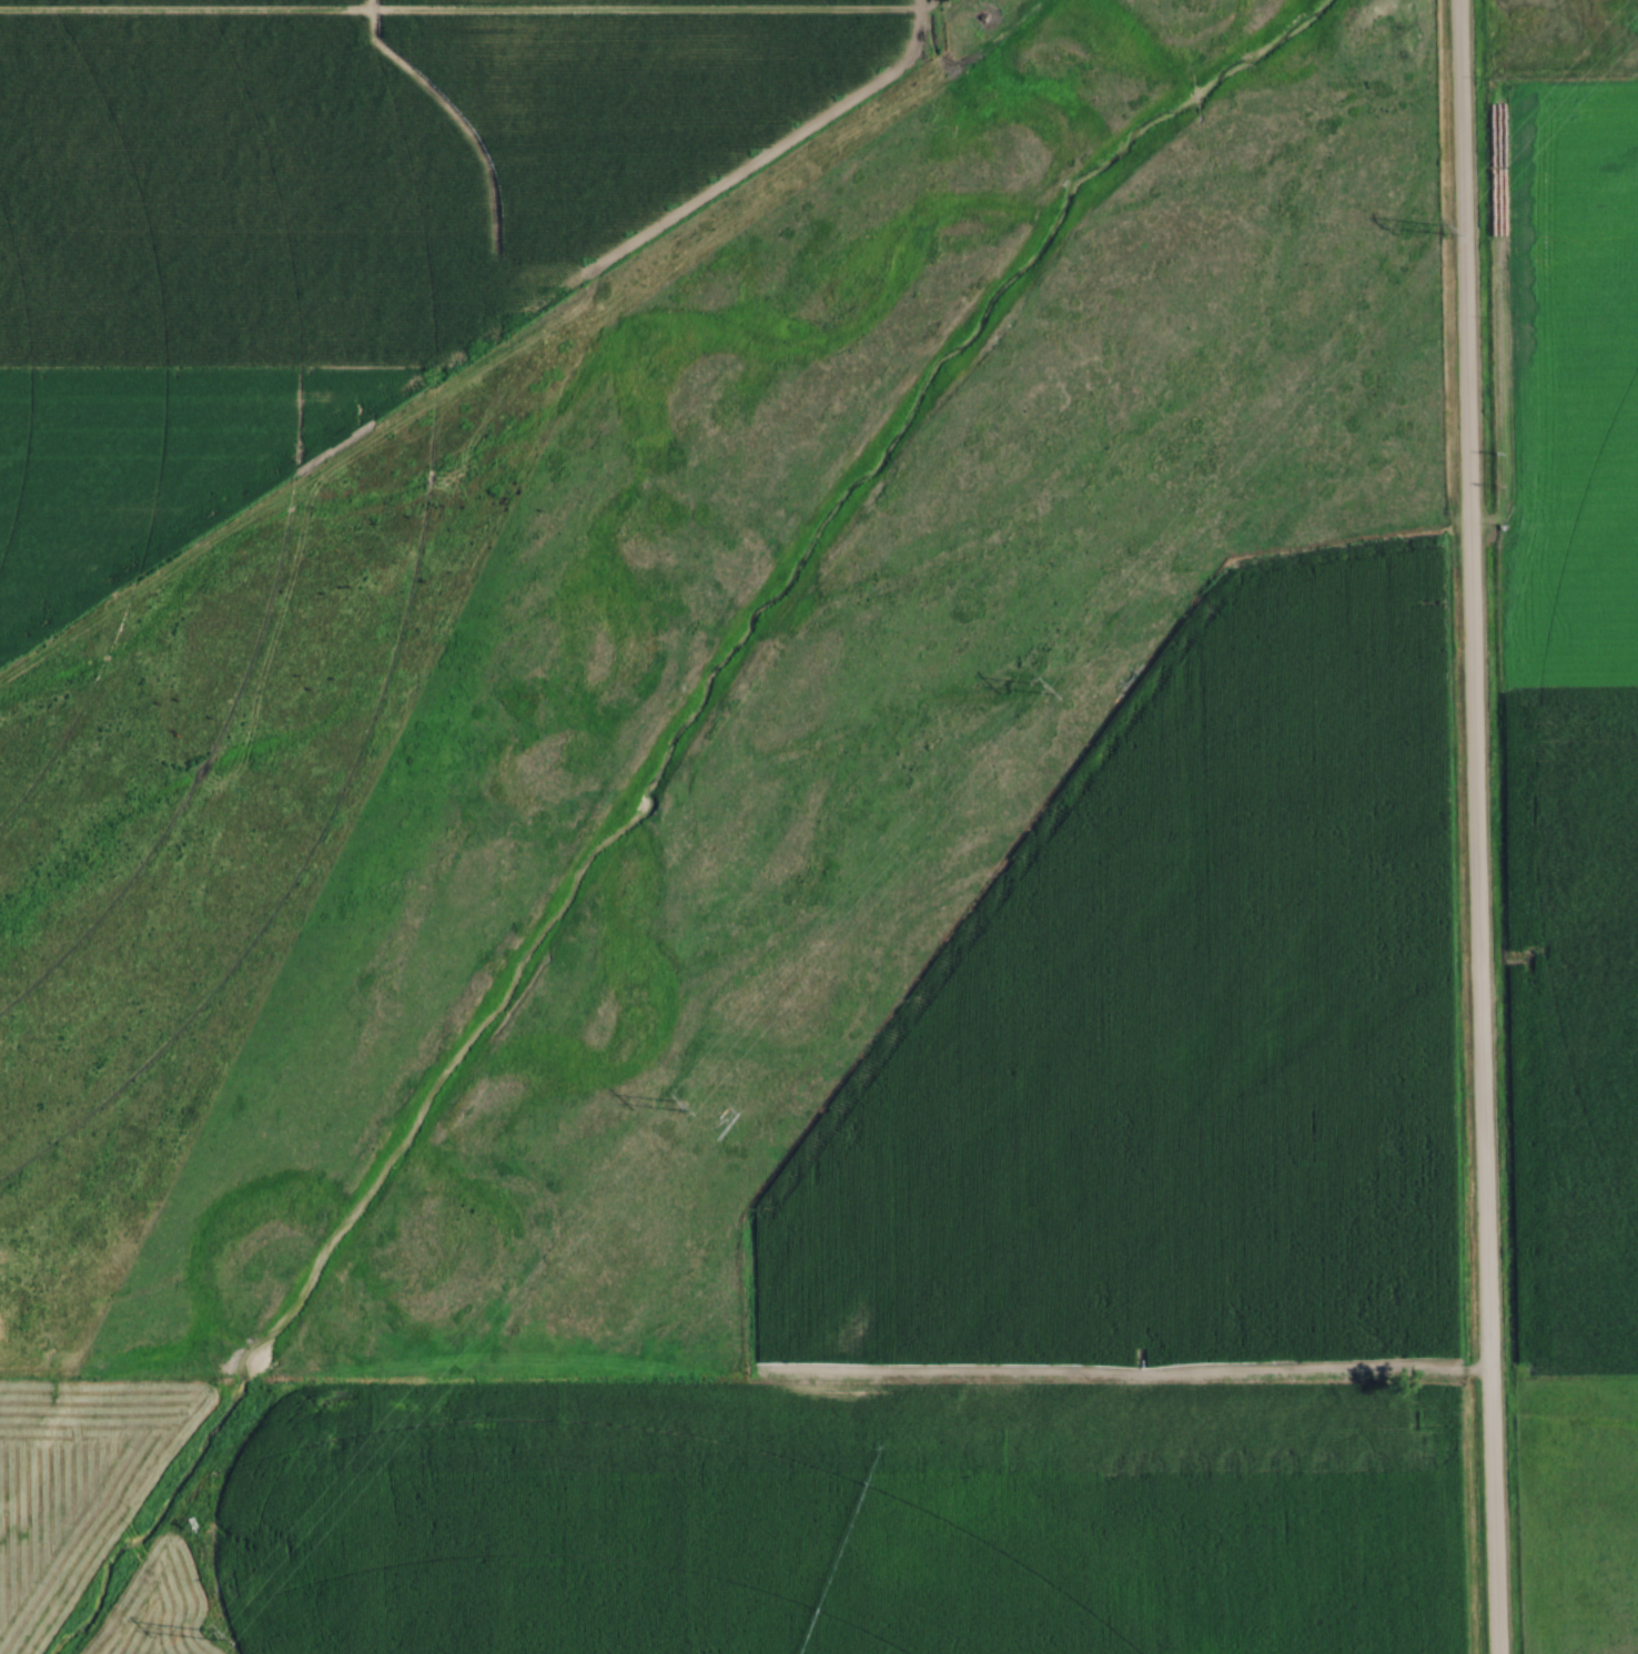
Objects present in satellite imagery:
power tower: (1438, 219)
power tower: (1037, 678)
road: (1472, 826)
power tower: (668, 1102)
power tower: (300, 1523)

